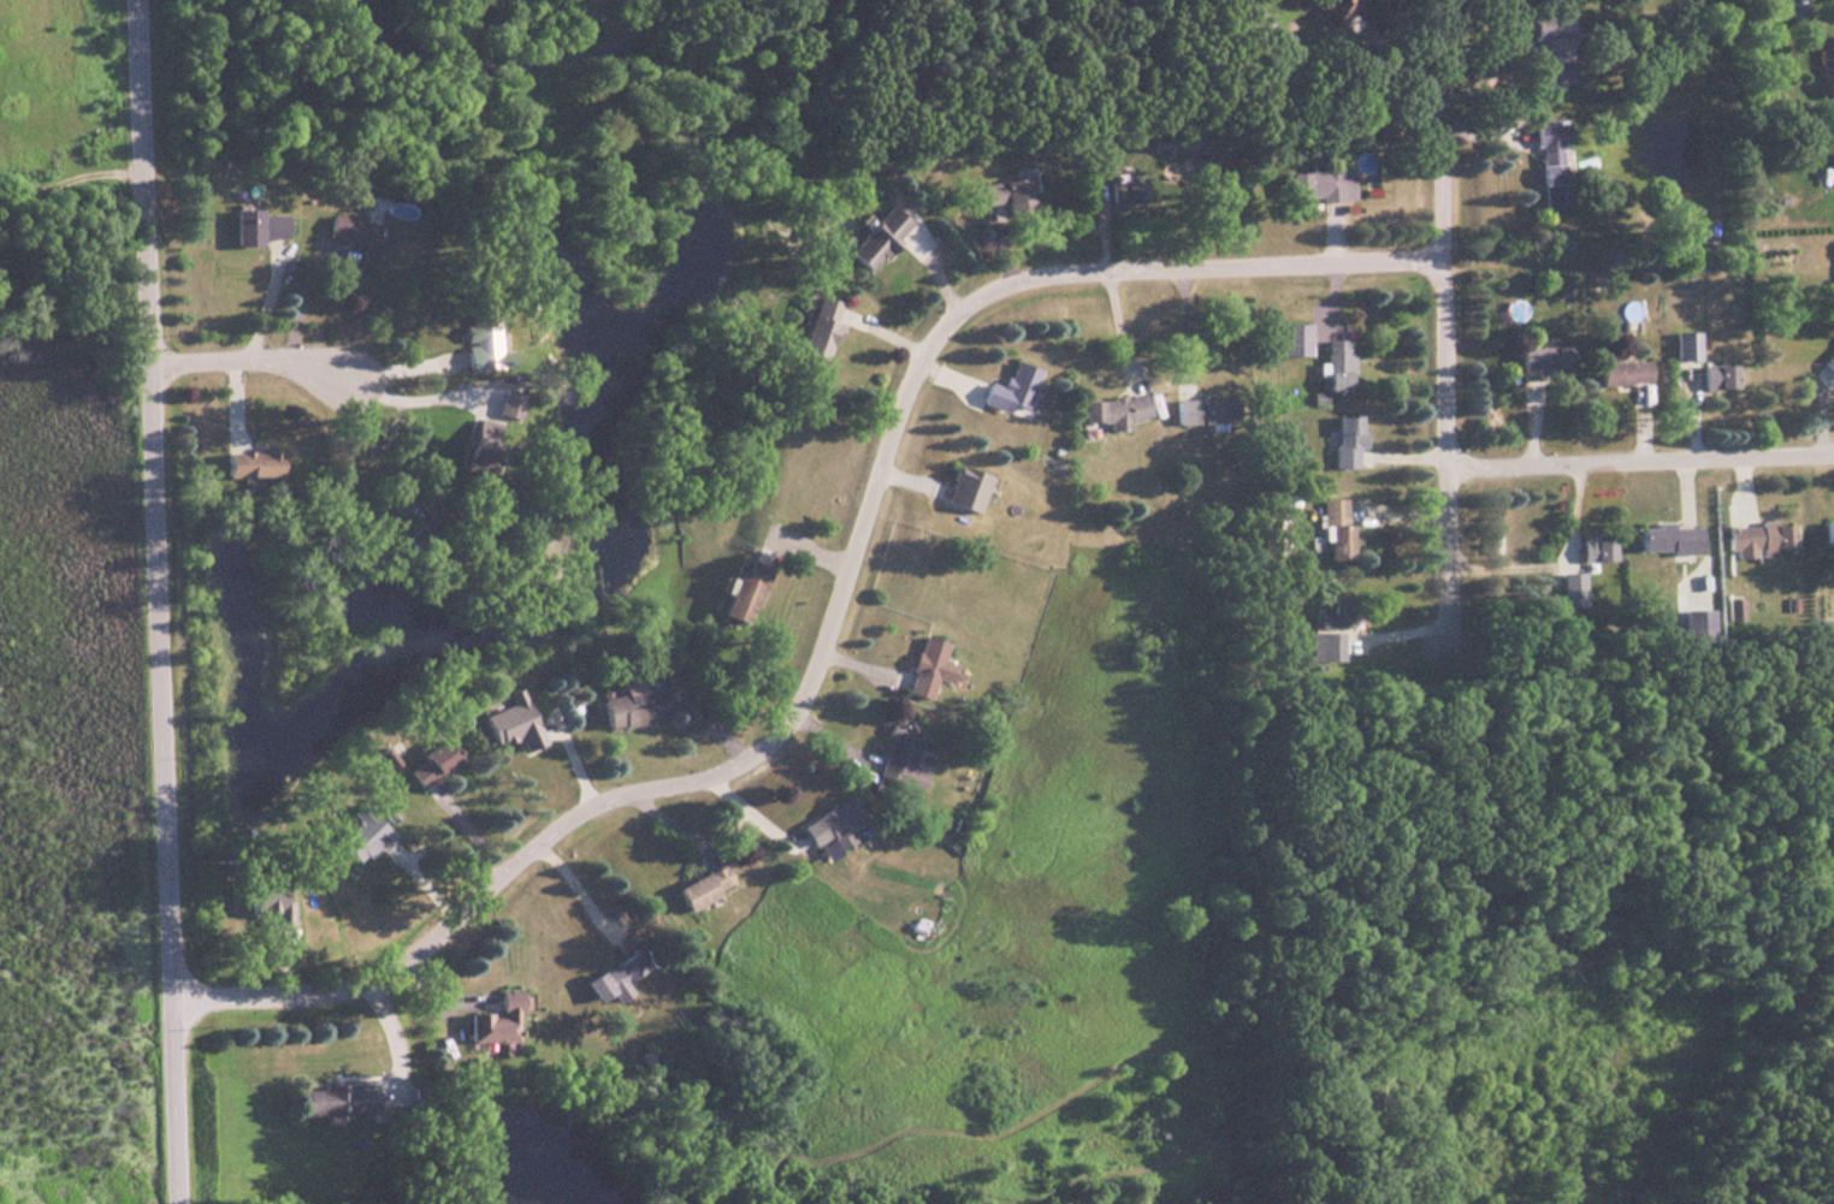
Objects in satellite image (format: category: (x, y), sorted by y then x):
building: (1536, 30)
building: (1830, 65)
building: (1555, 76)
building: (1546, 153)
building: (1832, 168)
building: (1315, 186)
building: (1002, 196)
building: (1122, 200)
building: (252, 226)
building: (1692, 232)
building: (354, 239)
building: (871, 239)
road: (1113, 327)
building: (812, 328)
building: (1288, 339)
building: (1685, 346)
road: (262, 355)
building: (1829, 362)
building: (1533, 363)
building: (1335, 366)
road: (1447, 372)
building: (1619, 373)
building: (1716, 376)
building: (1007, 390)
building: (1108, 410)
building: (1201, 410)
building: (1342, 441)
building: (474, 445)
road: (1641, 455)
building: (243, 464)
building: (960, 490)
building: (1332, 529)
building: (1827, 532)
building: (1666, 539)
building: (1756, 539)
building: (1589, 547)
building: (739, 586)
road: (162, 601)
road: (841, 610)
building: (1333, 612)
park: (67, 633)
building: (922, 668)
building: (628, 705)
building: (509, 723)
building: (894, 759)
building: (426, 761)
building: (826, 825)
building: (357, 832)
building: (692, 891)
building: (261, 902)
building: (608, 978)
building: (492, 1022)
building: (327, 1101)

